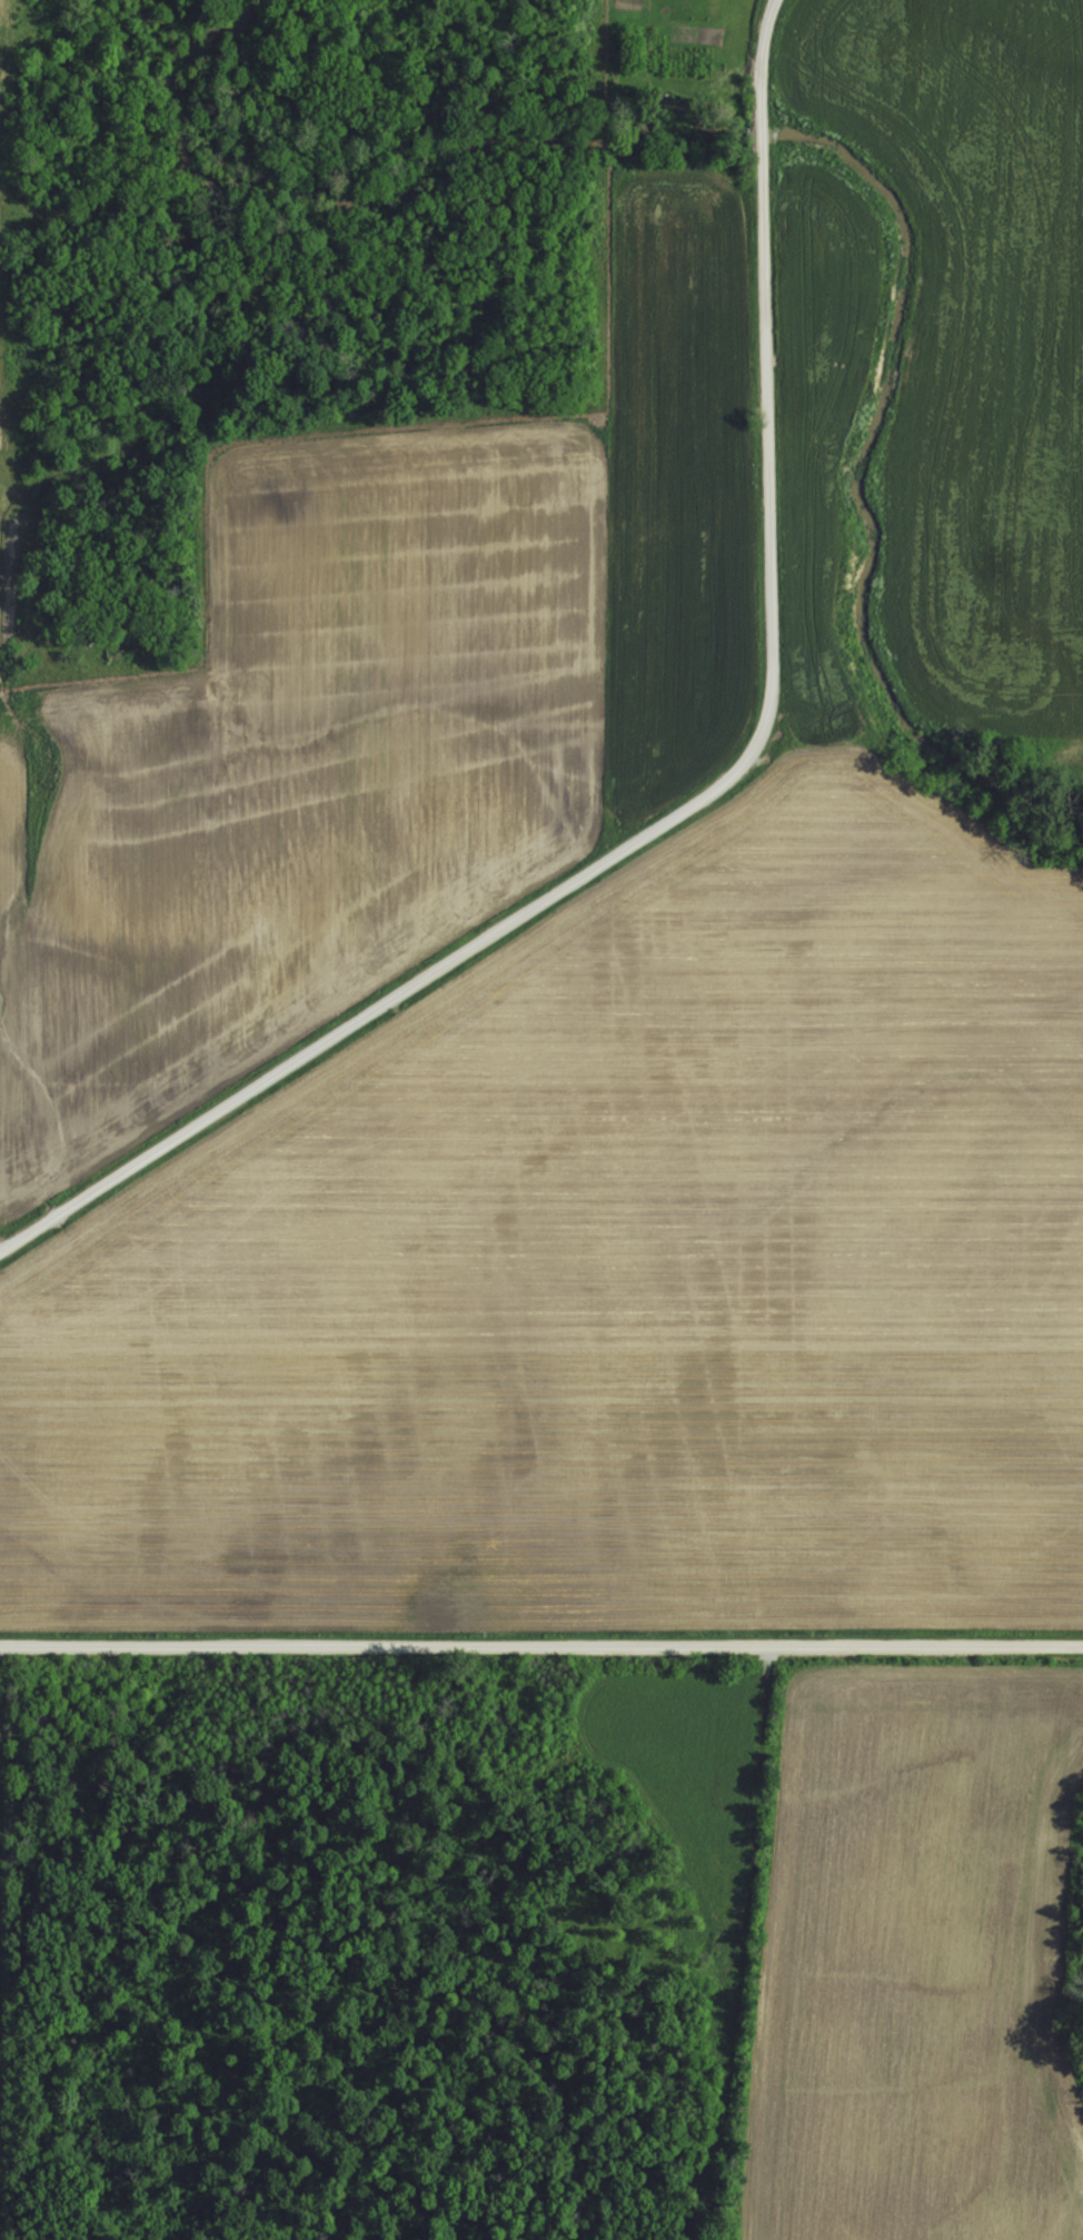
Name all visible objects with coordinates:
road: (698, 794)
road: (541, 1632)

